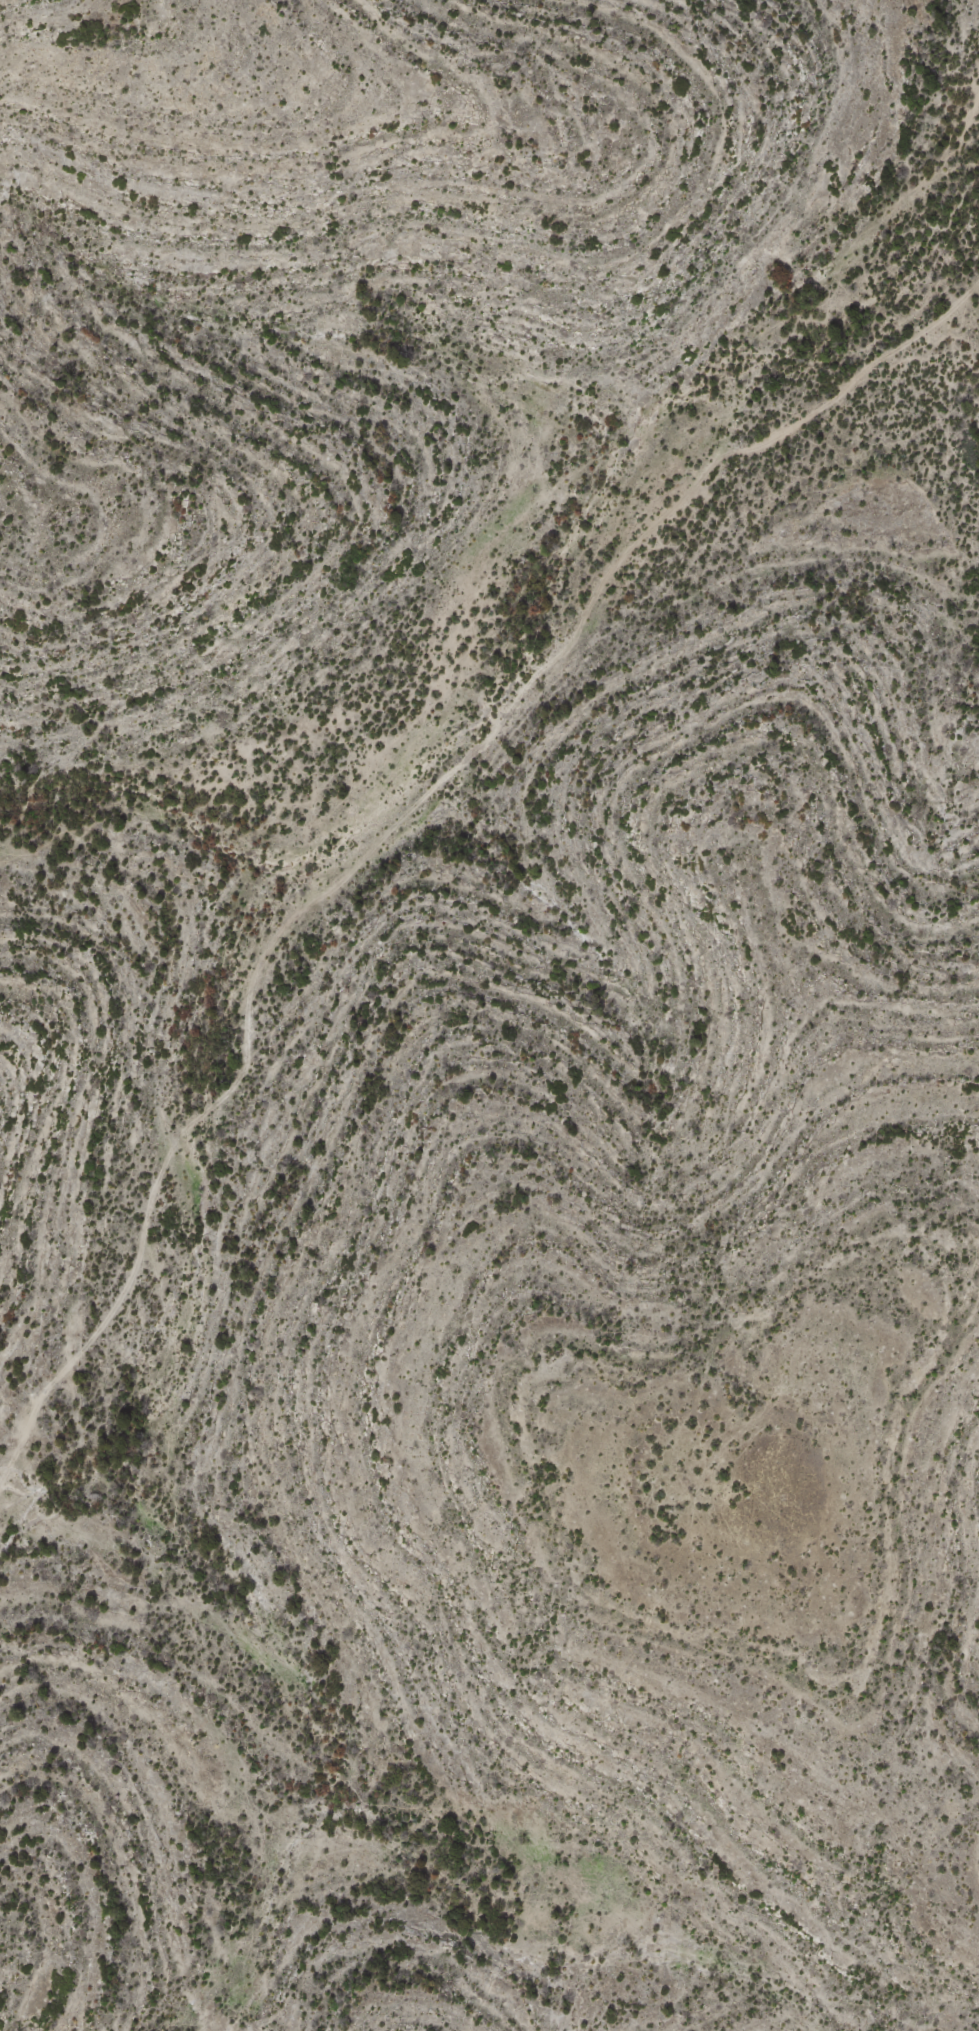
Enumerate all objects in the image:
road: (397, 826)

